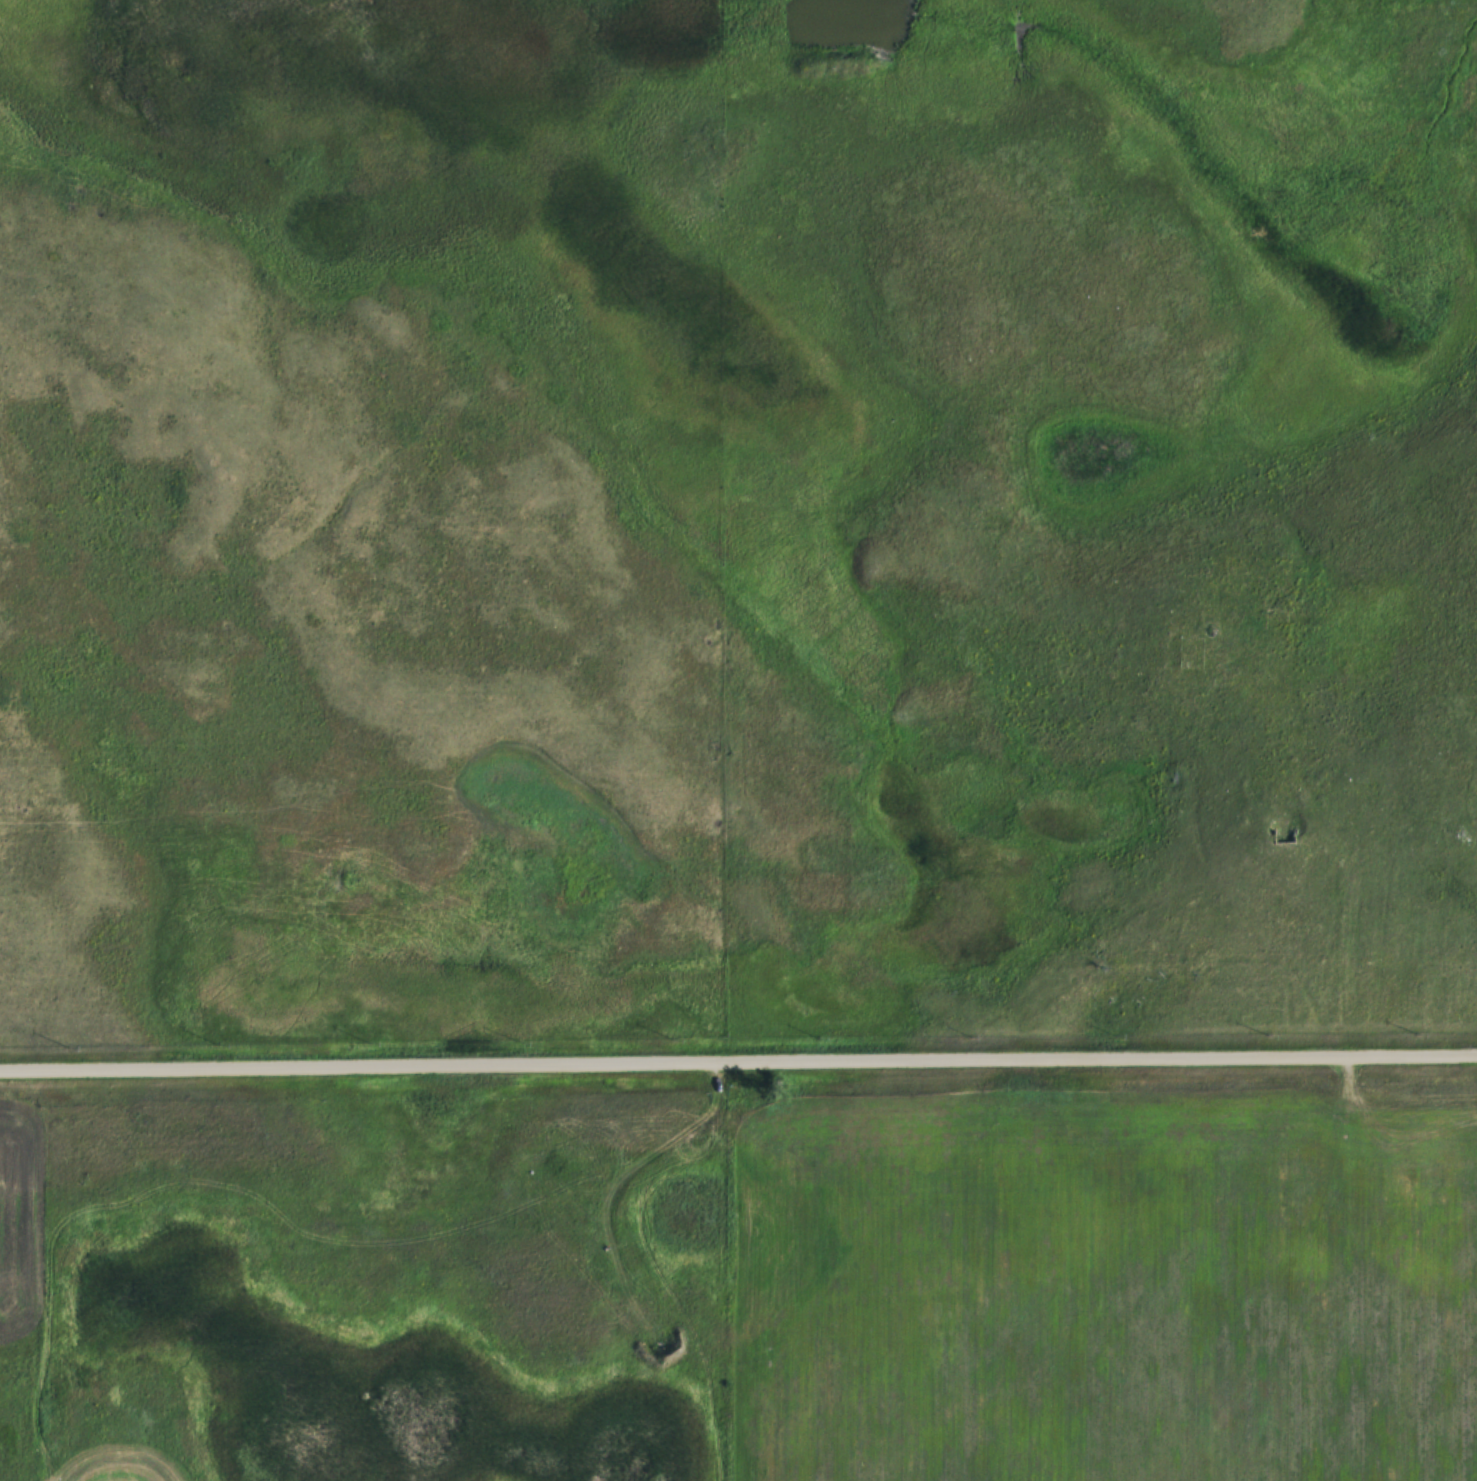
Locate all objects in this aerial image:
road: (738, 1067)

